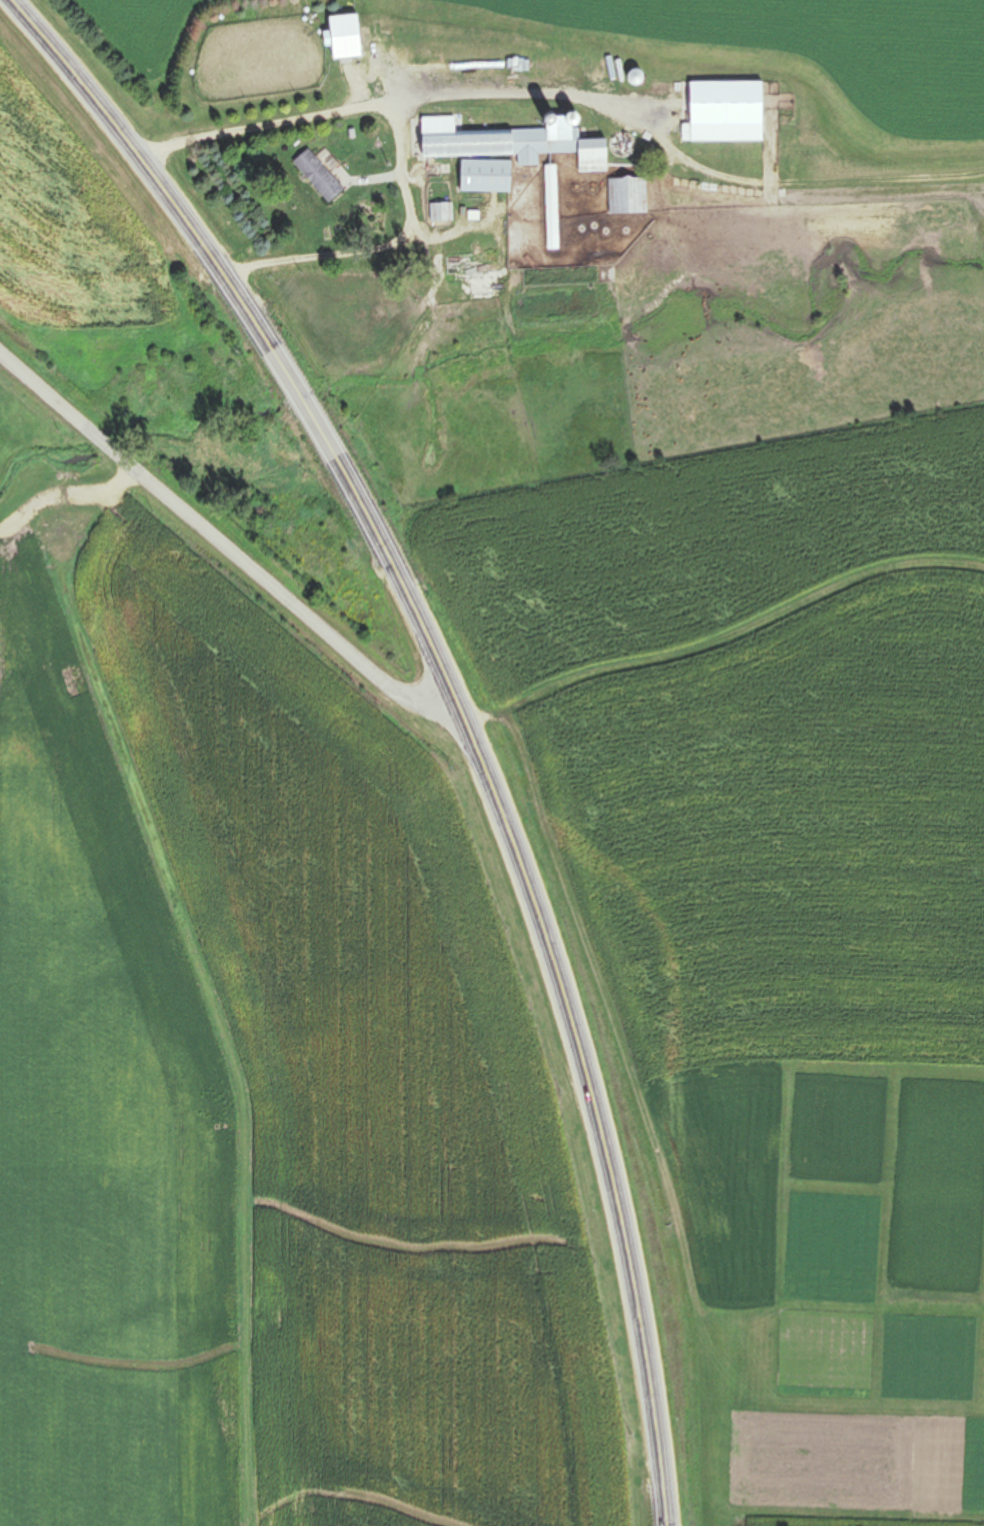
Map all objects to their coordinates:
building: (343, 36)
road: (522, 95)
building: (724, 111)
road: (404, 140)
building: (513, 141)
building: (317, 175)
building: (484, 176)
building: (626, 195)
building: (551, 207)
road: (221, 542)
road: (459, 710)

